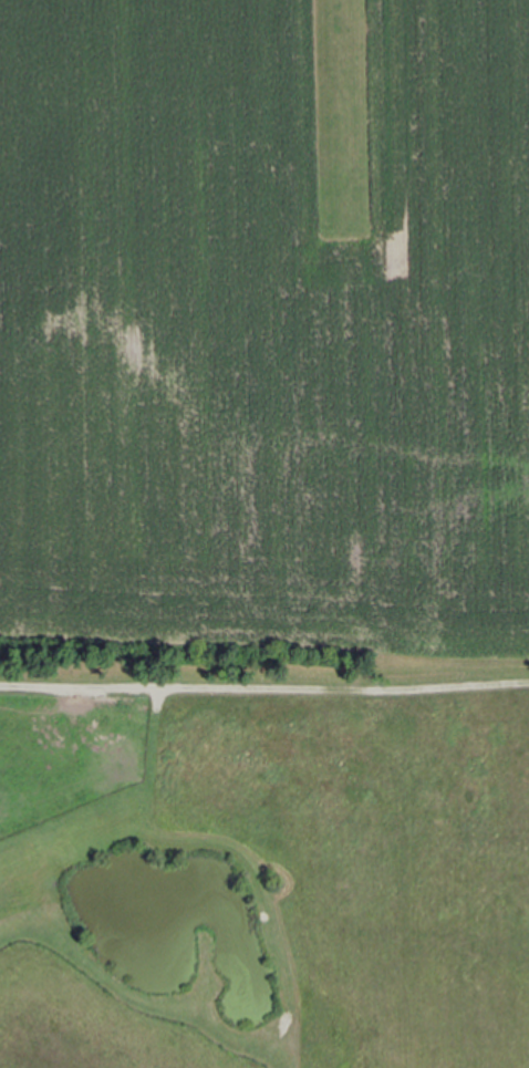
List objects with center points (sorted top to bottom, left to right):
airport runway: (338, 105)

